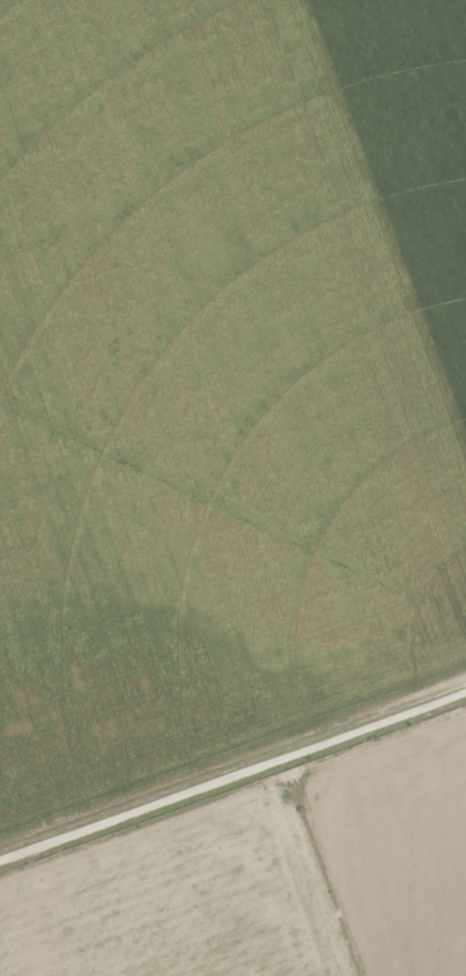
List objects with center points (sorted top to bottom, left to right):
road: (233, 770)

